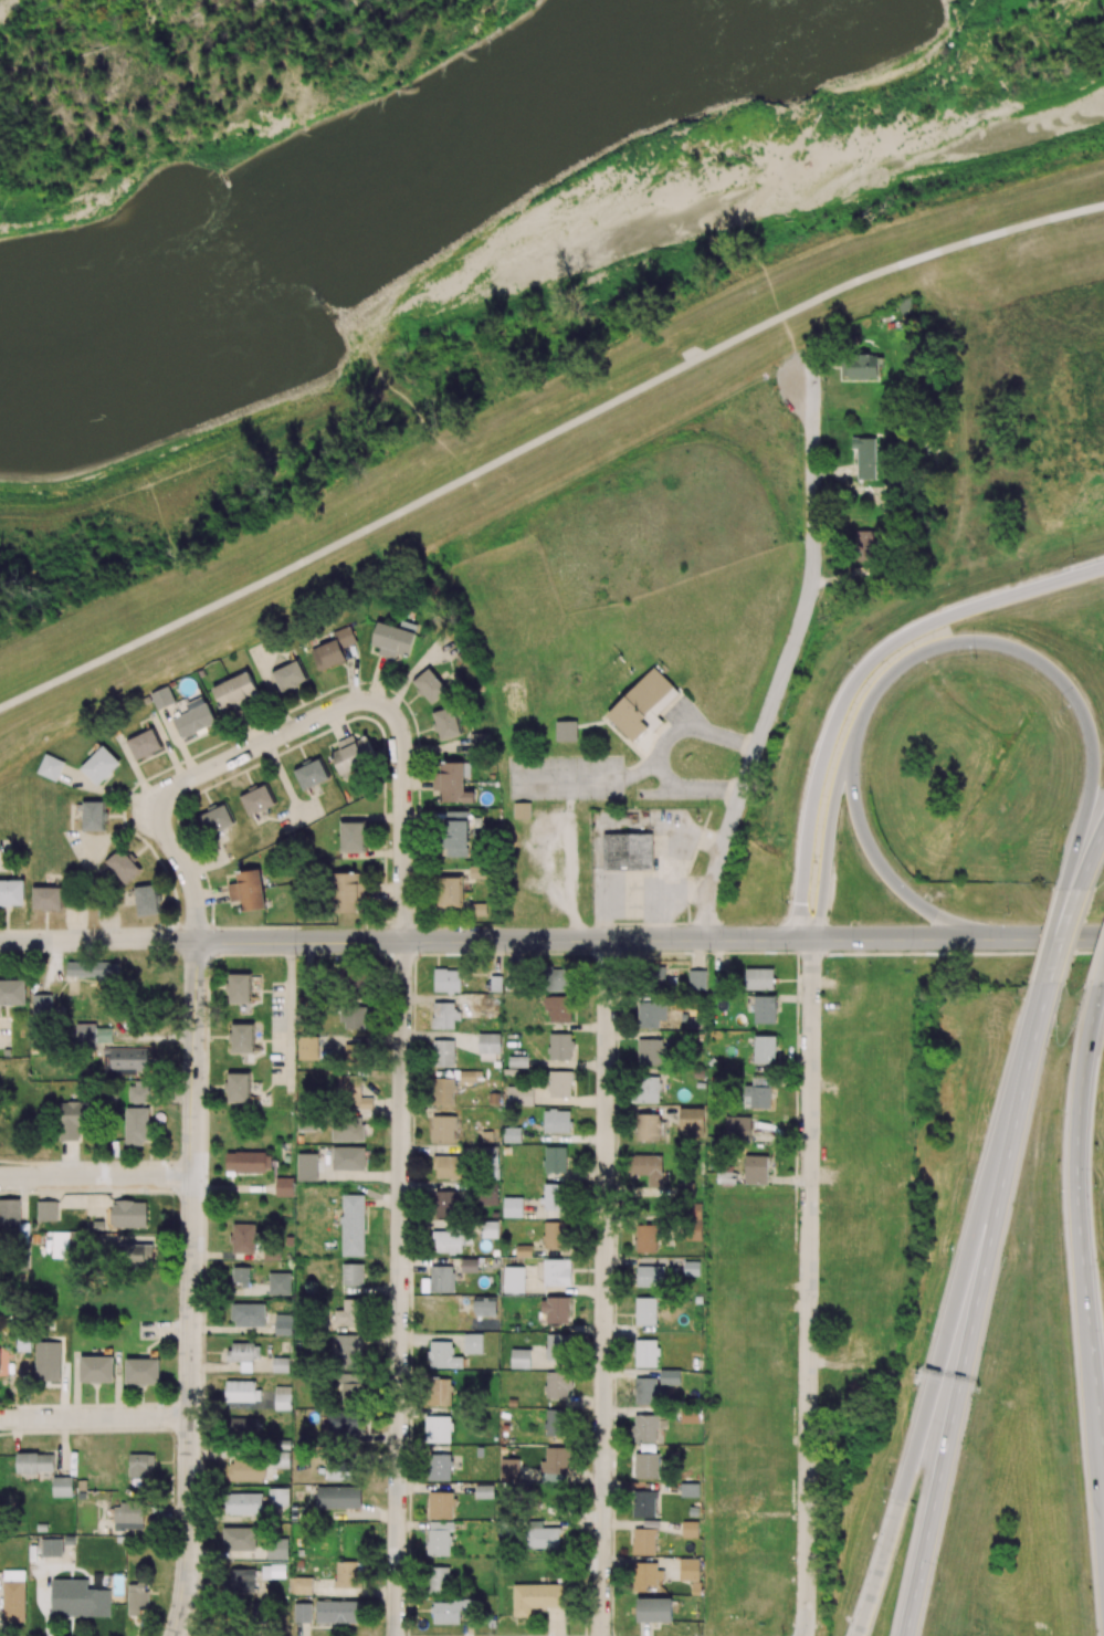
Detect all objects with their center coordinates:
river: (386, 217)
road: (785, 354)
road: (358, 415)
road: (545, 439)
street lamp: (1072, 555)
building: (393, 639)
building: (333, 649)
street lamp: (849, 657)
street lamp: (975, 659)
road: (788, 660)
building: (288, 675)
building: (430, 685)
building: (234, 690)
building: (162, 698)
building: (643, 705)
street lamp: (1061, 712)
building: (194, 717)
road: (308, 722)
building: (446, 723)
building: (566, 731)
building: (145, 743)
building: (353, 754)
building: (99, 765)
building: (50, 767)
building: (311, 774)
building: (452, 782)
street lamp: (871, 790)
building: (257, 799)
building: (522, 810)
building: (94, 816)
building: (217, 819)
street lamp: (1060, 822)
building: (455, 833)
building: (353, 837)
road: (1091, 857)
building: (123, 864)
building: (248, 890)
building: (11, 892)
building: (347, 892)
building: (450, 892)
building: (46, 898)
building: (147, 900)
street lamp: (780, 900)
street lamp: (1009, 914)
road: (1028, 936)
road: (1061, 936)
road: (883, 937)
road: (505, 938)
road: (97, 940)
building: (92, 969)
building: (240, 988)
building: (12, 993)
street lamp: (1017, 997)
road: (290, 1004)
building: (42, 1005)
building: (92, 1035)
building: (242, 1038)
building: (125, 1060)
road: (811, 1104)
road: (96, 1176)
street lamp: (966, 1176)
street lamp: (1097, 1185)
road: (603, 1287)
road: (192, 1288)
road: (400, 1288)
road: (970, 1308)
street lamp: (925, 1328)
road: (95, 1417)
road: (806, 1454)
street lamp: (883, 1488)
street lamp: (938, 1582)

